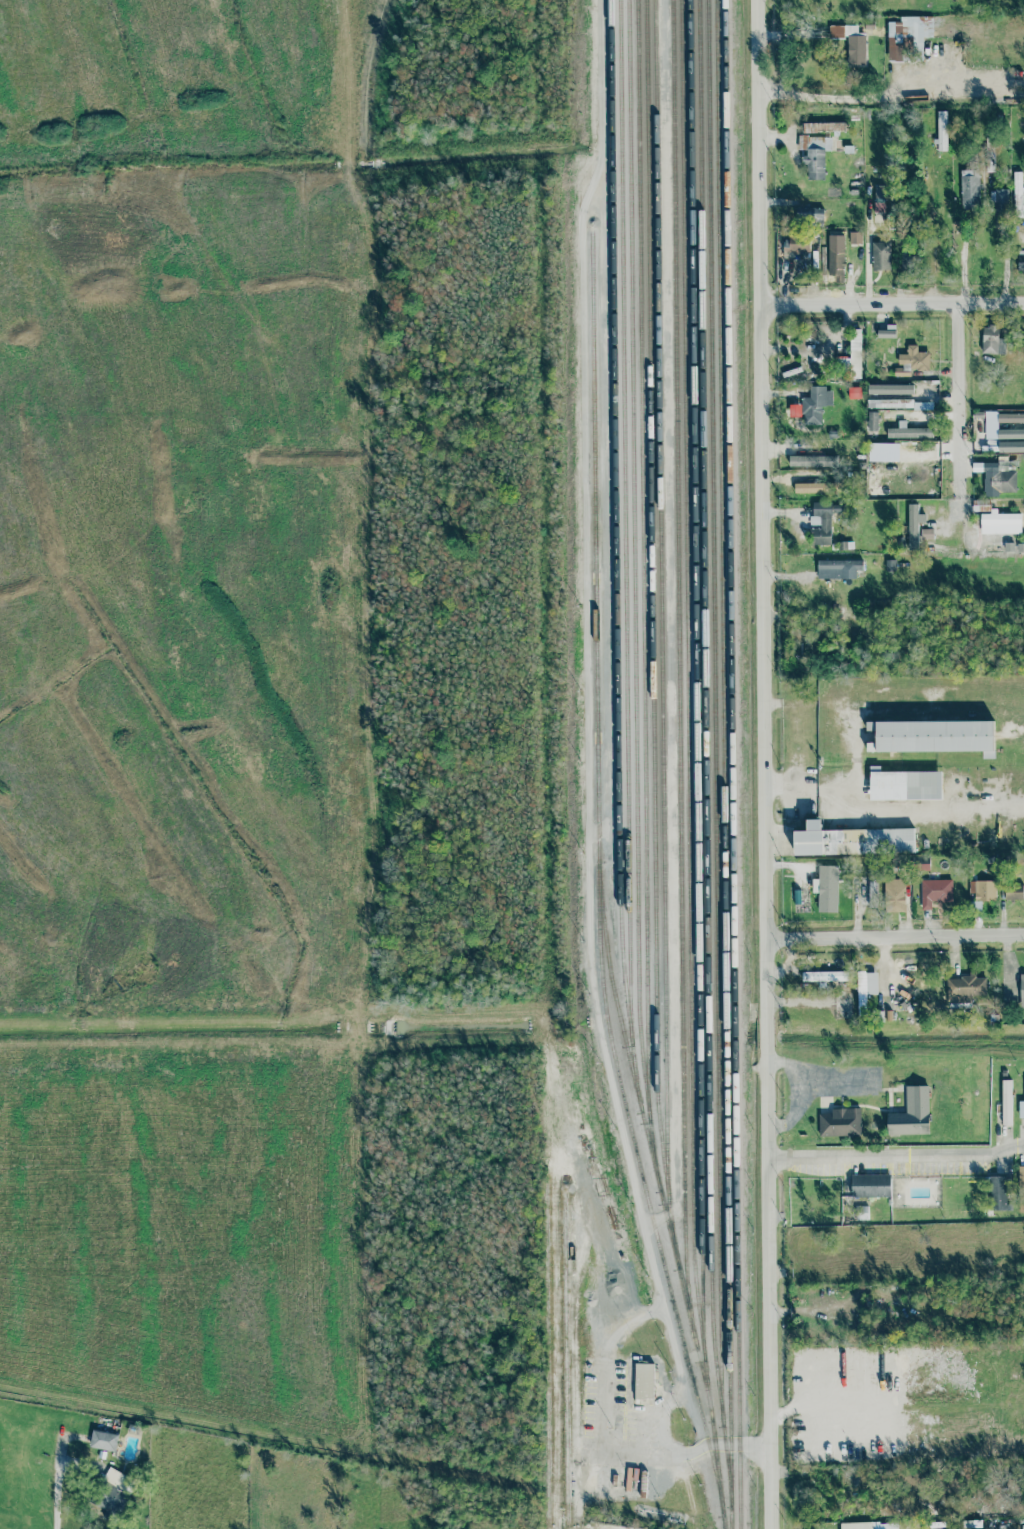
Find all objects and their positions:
road: (798, 34)
building: (908, 36)
building: (851, 43)
road: (784, 51)
road: (837, 96)
building: (823, 127)
building: (942, 131)
building: (989, 147)
building: (815, 155)
building: (970, 189)
building: (879, 199)
building: (999, 204)
building: (809, 214)
building: (855, 238)
building: (800, 244)
building: (836, 255)
building: (881, 256)
building: (1020, 262)
building: (905, 264)
road: (890, 305)
building: (887, 332)
building: (992, 341)
building: (853, 358)
building: (913, 361)
building: (893, 397)
road: (957, 400)
building: (815, 405)
building: (1011, 418)
building: (873, 421)
building: (909, 432)
building: (1010, 434)
building: (814, 461)
building: (998, 475)
building: (811, 488)
railway: (625, 514)
building: (996, 519)
building: (822, 521)
building: (917, 529)
railway: (641, 548)
building: (838, 569)
railway: (634, 587)
railway: (661, 597)
railway: (653, 629)
railway: (679, 658)
railway: (596, 662)
railway: (696, 673)
railway: (688, 696)
railway: (714, 706)
building: (934, 737)
road: (586, 741)
railway: (723, 755)
railway: (734, 764)
road: (763, 764)
railway: (706, 765)
railway: (619, 769)
building: (904, 785)
road: (864, 813)
building: (852, 841)
building: (827, 889)
building: (935, 892)
building: (981, 892)
building: (873, 893)
building: (1014, 893)
building: (895, 895)
road: (894, 934)
building: (825, 976)
building: (966, 987)
building: (866, 989)
building: (1022, 991)
road: (837, 1081)
road: (798, 1094)
building: (1006, 1103)
building: (1021, 1110)
building: (912, 1114)
building: (840, 1122)
road: (895, 1153)
building: (1021, 1177)
building: (871, 1186)
railway: (646, 1191)
building: (998, 1193)
railway: (546, 1354)
railway: (565, 1360)
building: (645, 1381)
road: (673, 1418)
building: (104, 1440)
road: (607, 1456)
road: (62, 1487)
building: (112, 1493)
building: (856, 1525)
building: (1023, 1527)

